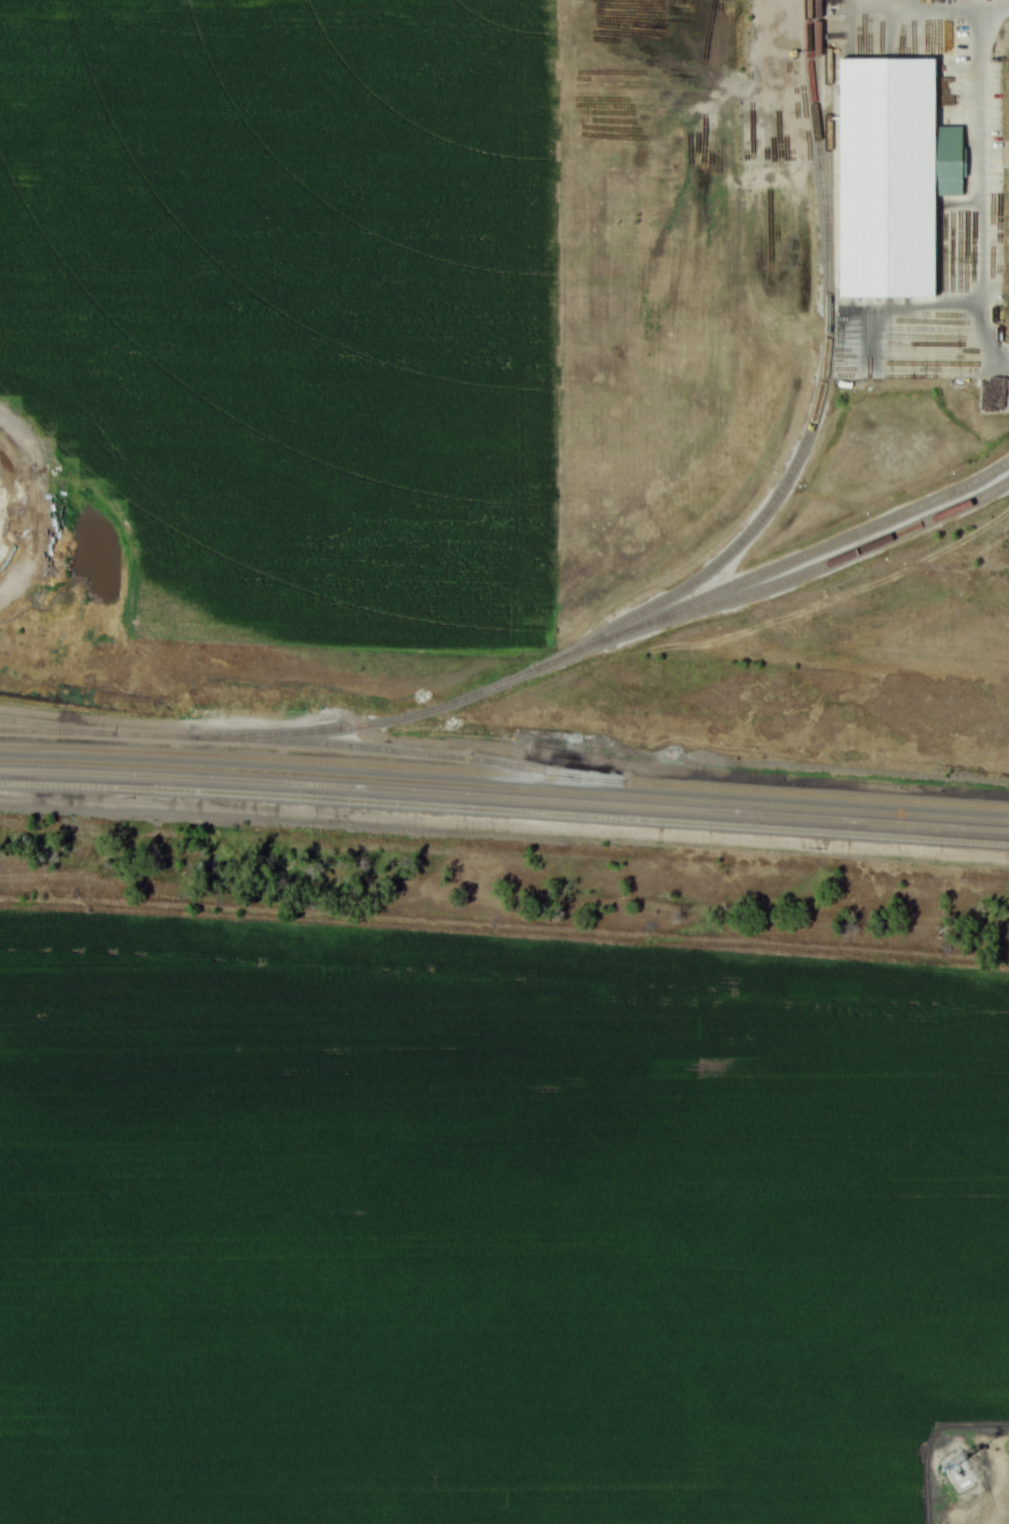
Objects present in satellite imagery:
railway: (808, 74)
railway: (823, 378)
building: (9, 509)
railway: (834, 551)
railway: (610, 631)
railway: (52, 726)
railway: (305, 744)
railway: (504, 774)
railway: (504, 786)
railway: (504, 797)
railway: (504, 811)
road: (504, 824)

